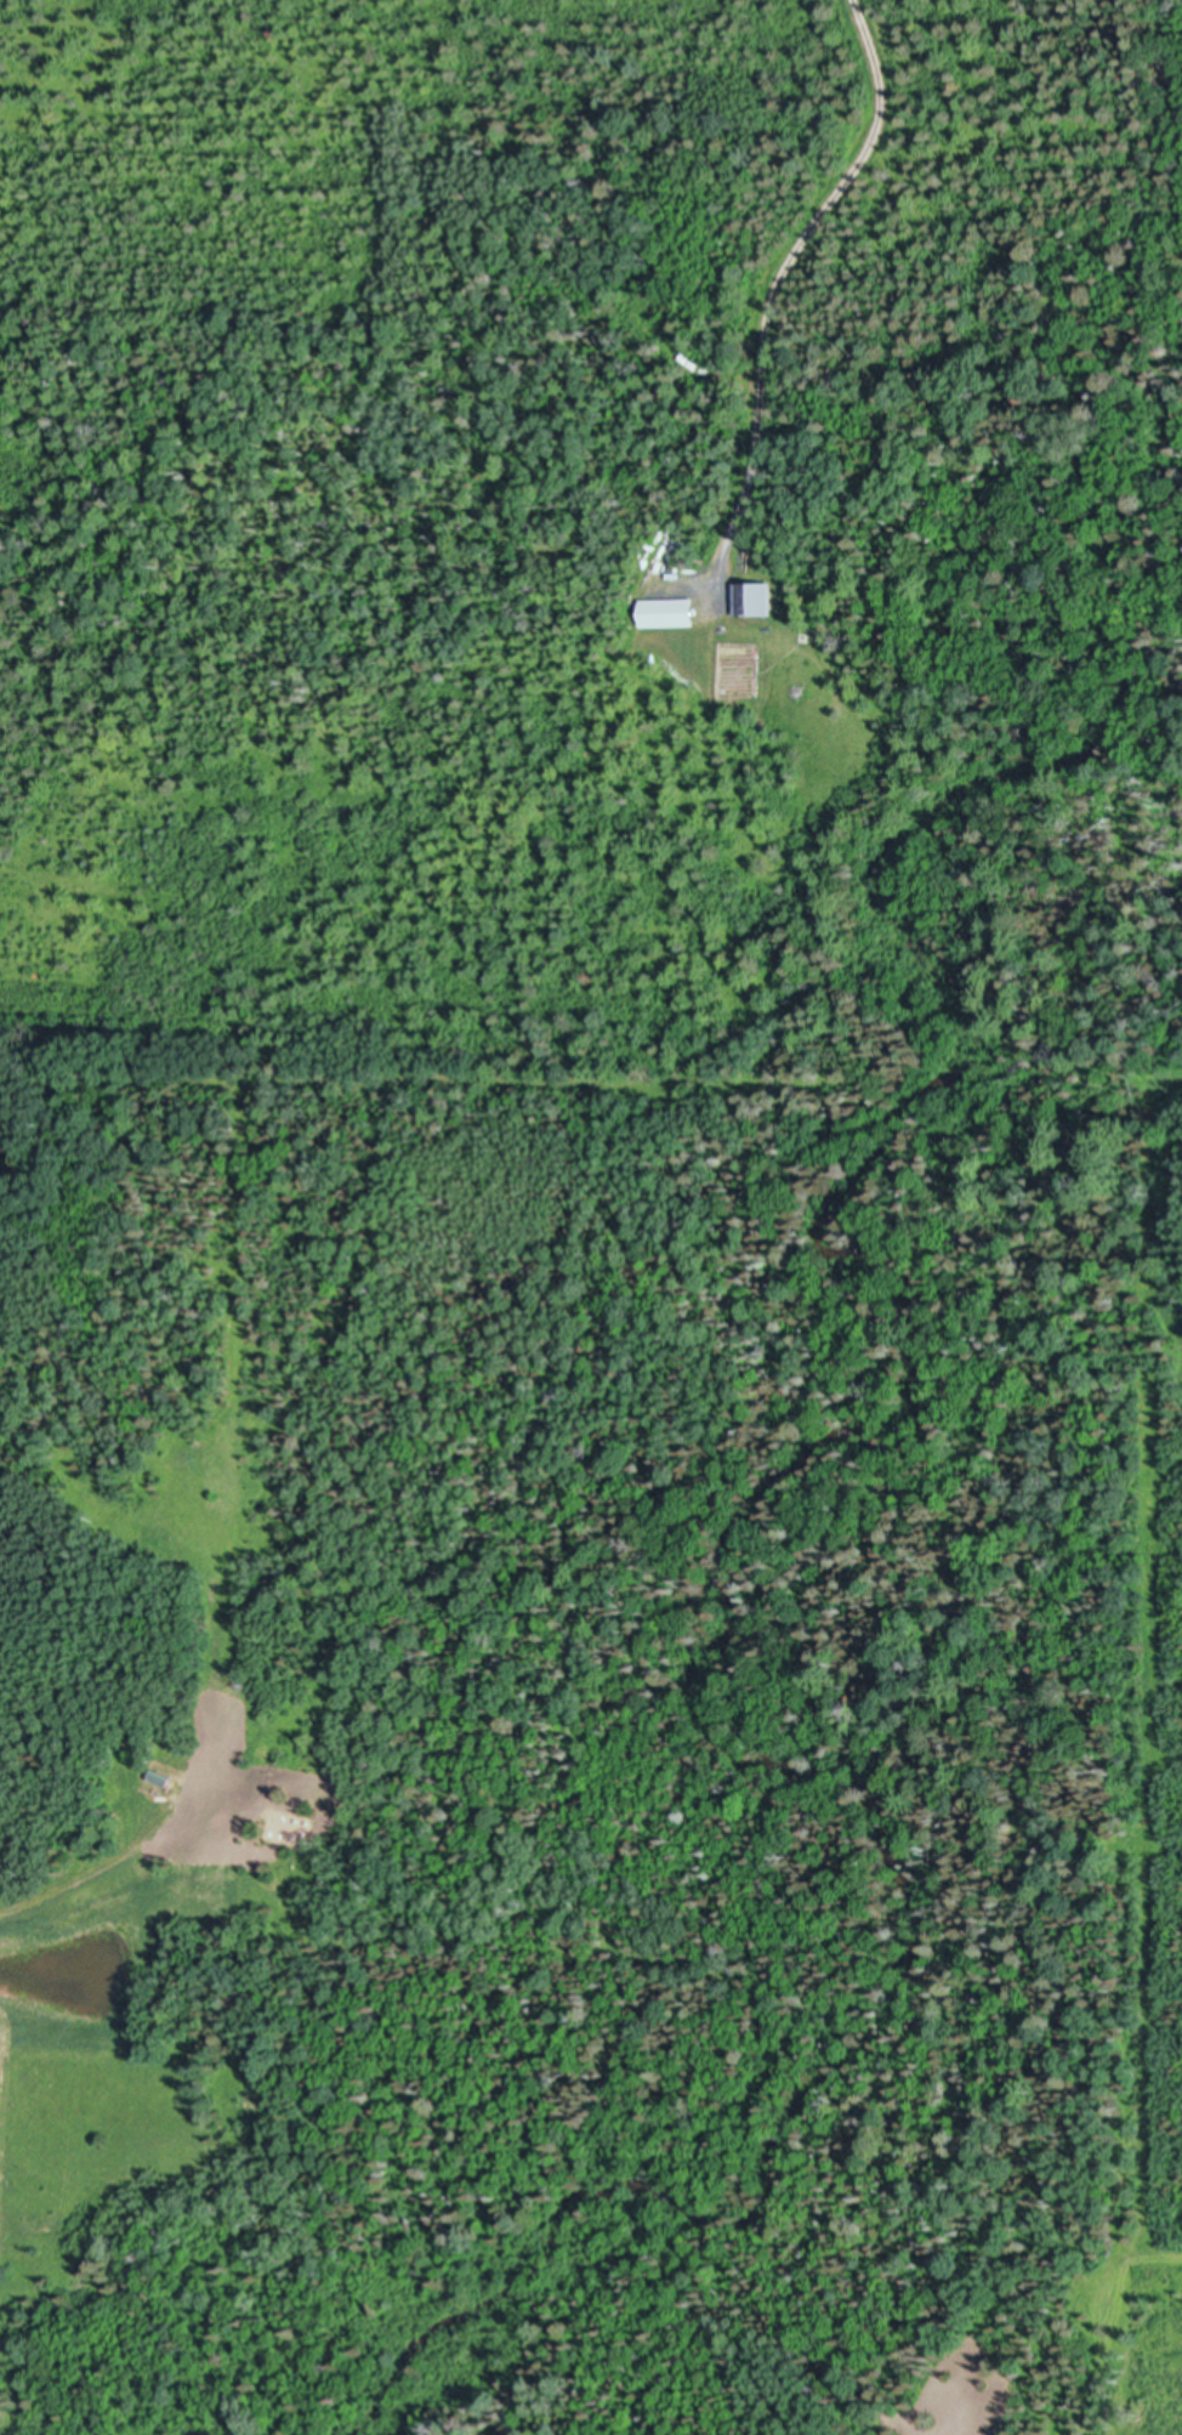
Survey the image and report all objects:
road: (775, 290)
river: (1153, 316)
building: (691, 362)
building: (757, 601)
river: (920, 1458)
building: (160, 1775)
building: (159, 1781)

